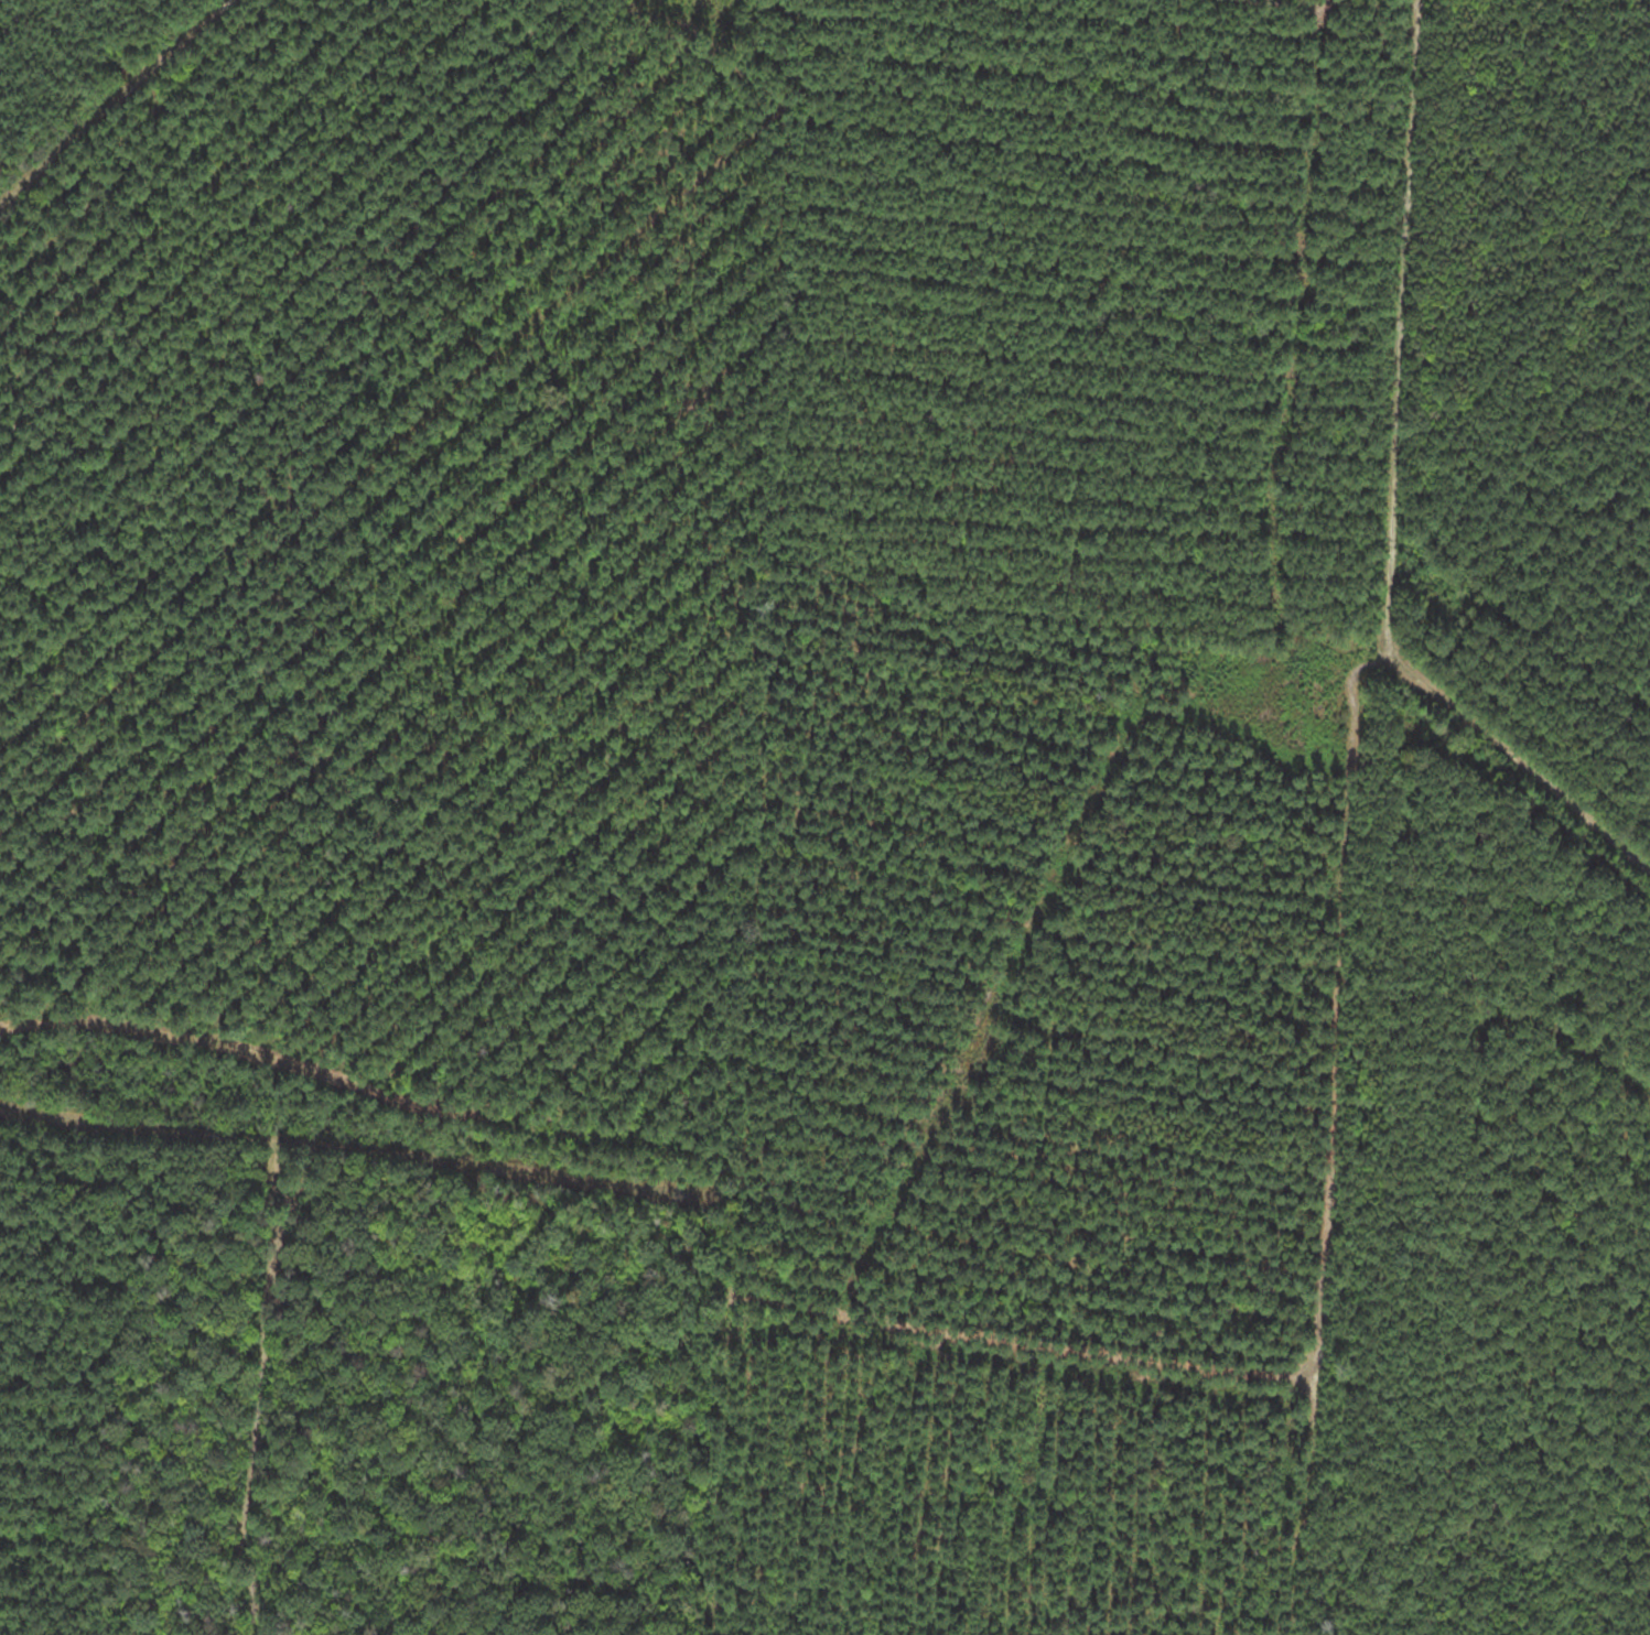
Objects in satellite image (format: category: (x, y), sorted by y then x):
road: (160, 155)
road: (1392, 496)

